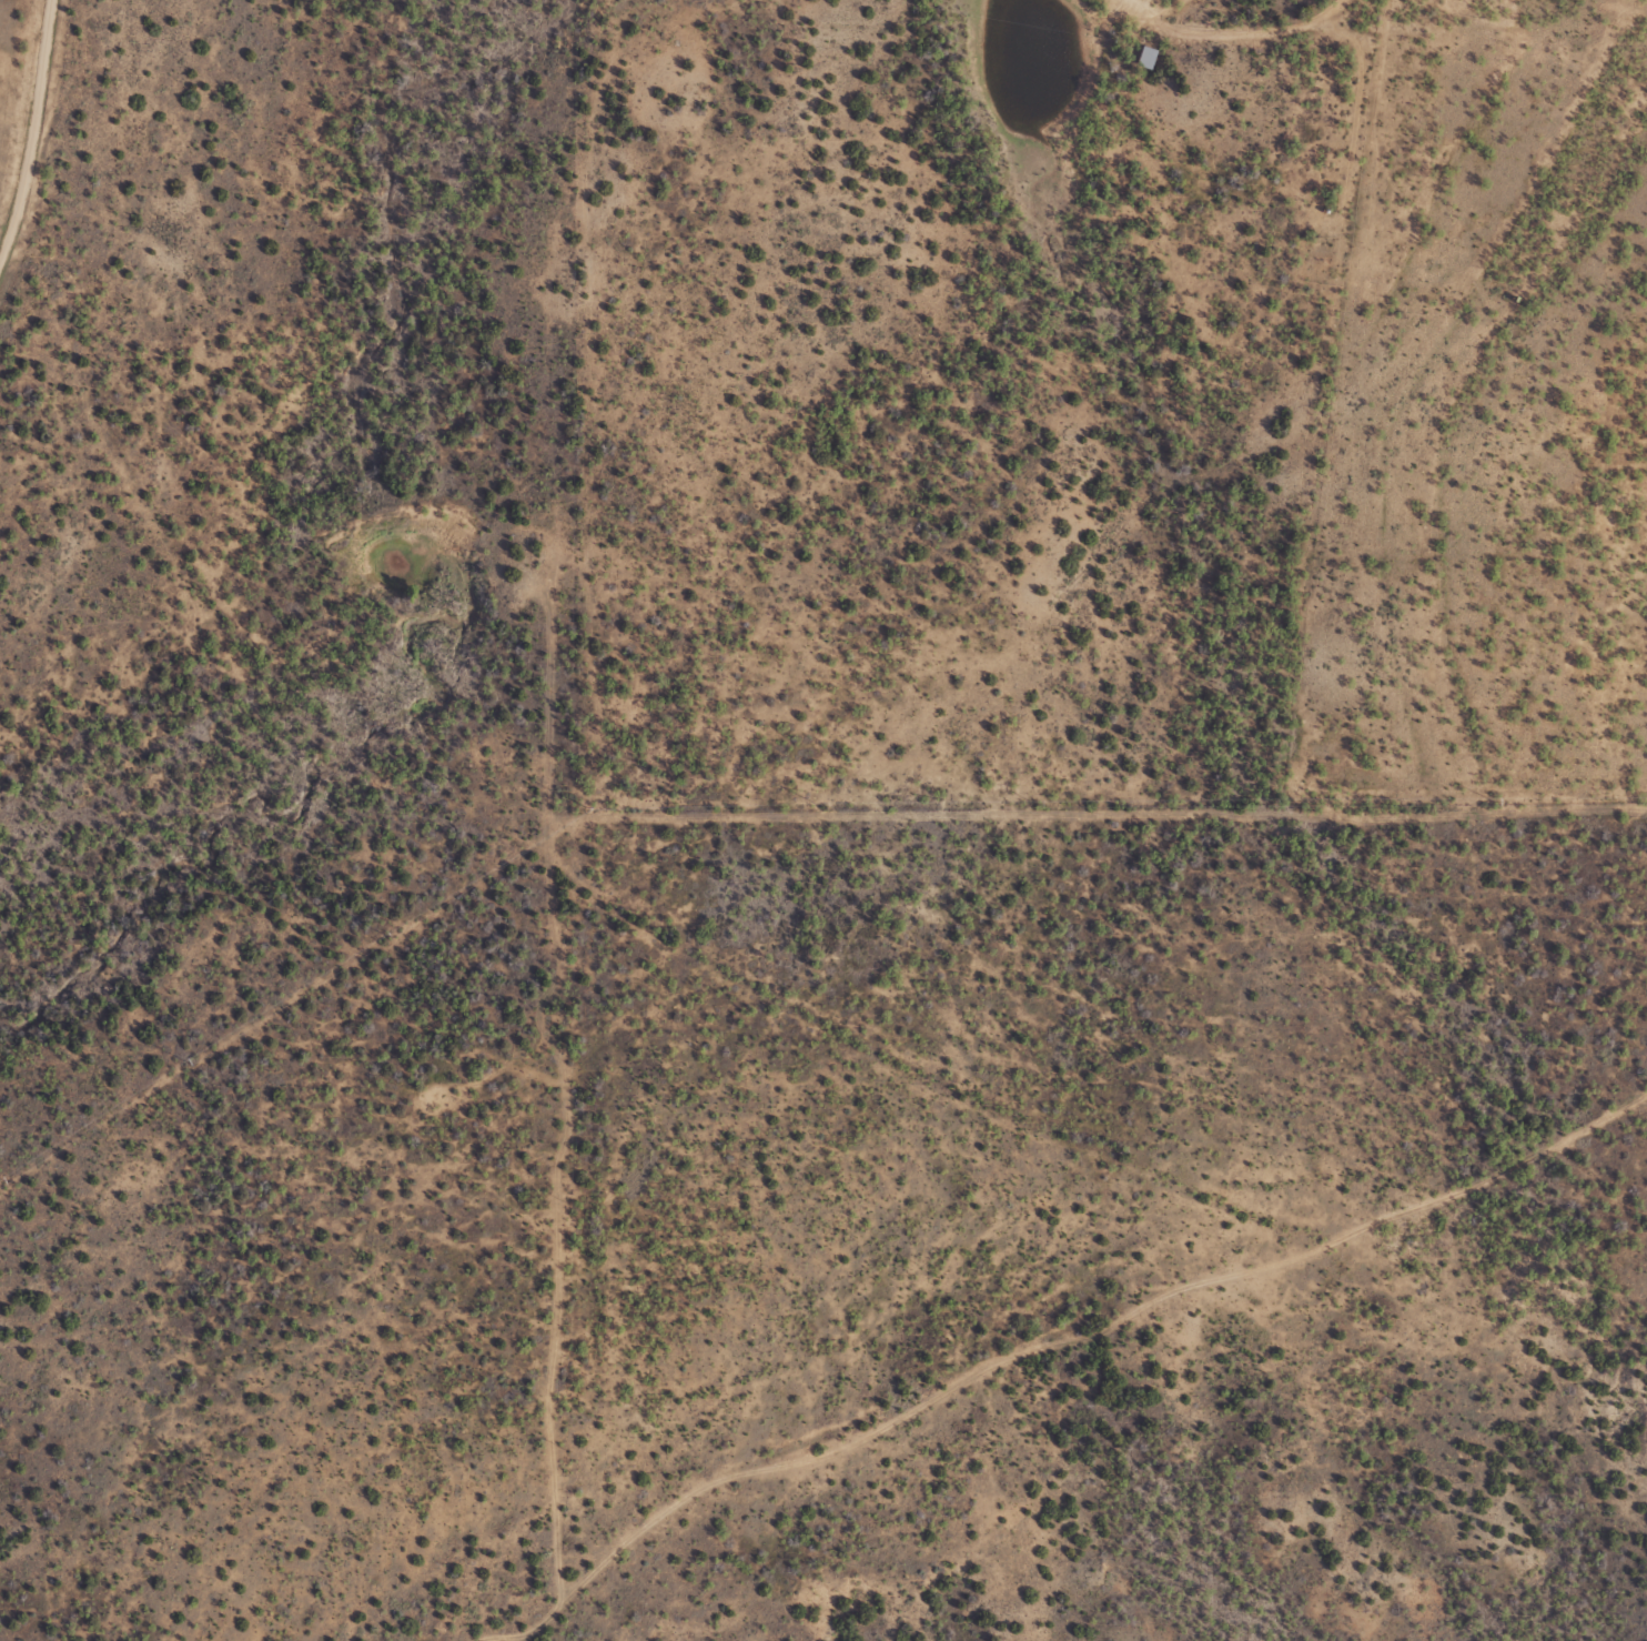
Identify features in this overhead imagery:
building: (1151, 56)
road: (1383, 66)
road: (38, 138)
road: (1100, 1362)

